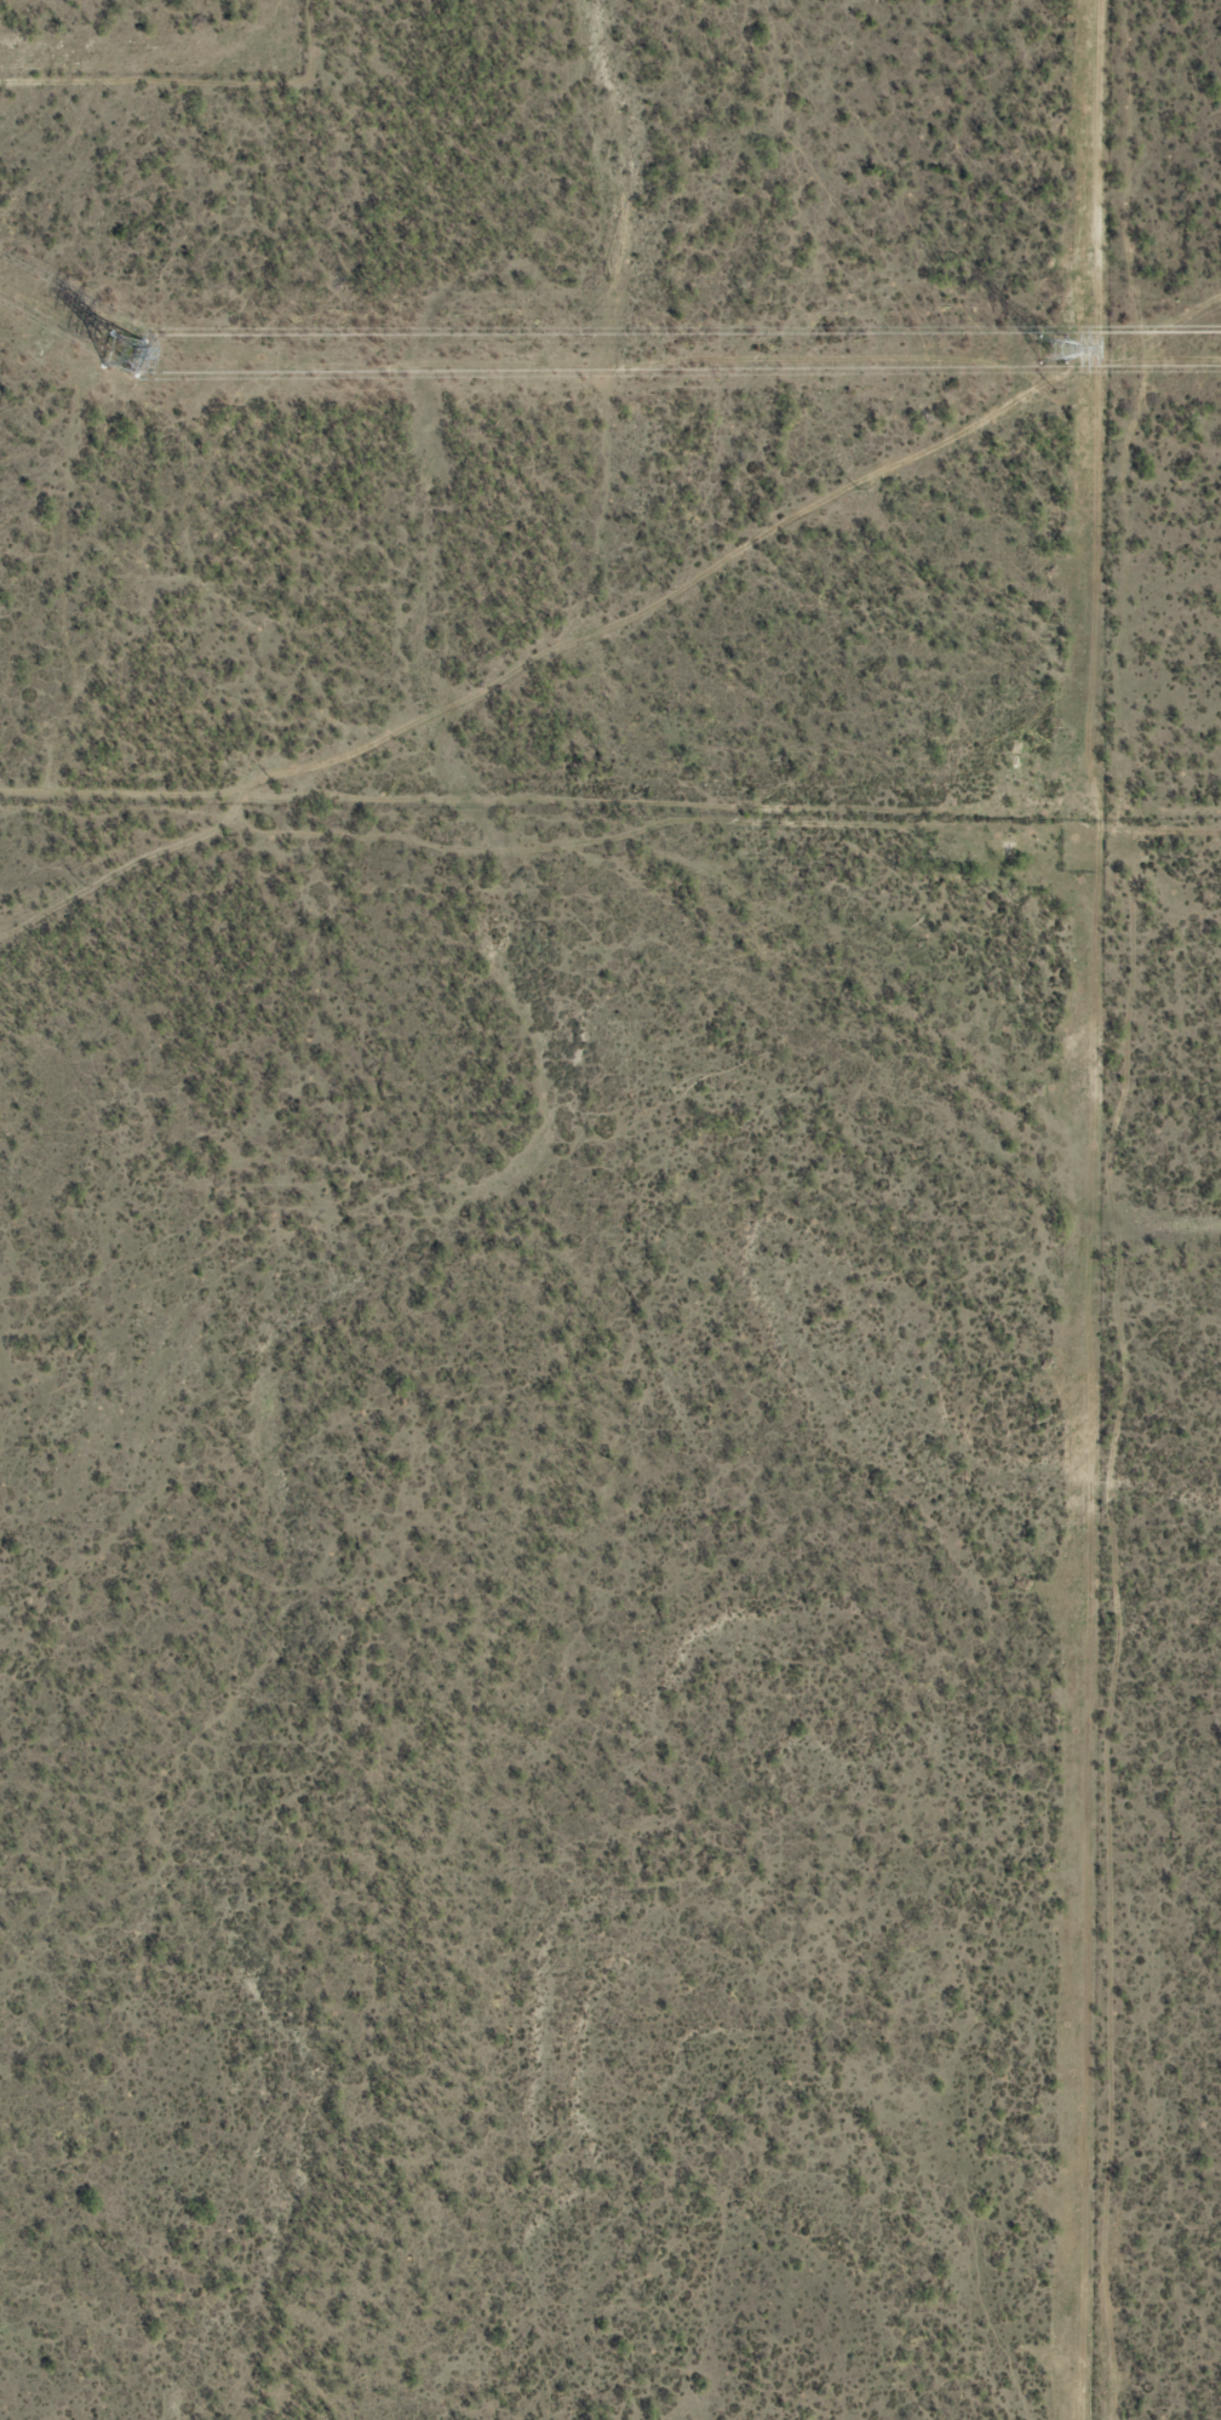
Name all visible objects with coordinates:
power tower: (1049, 349)
power tower: (124, 354)

